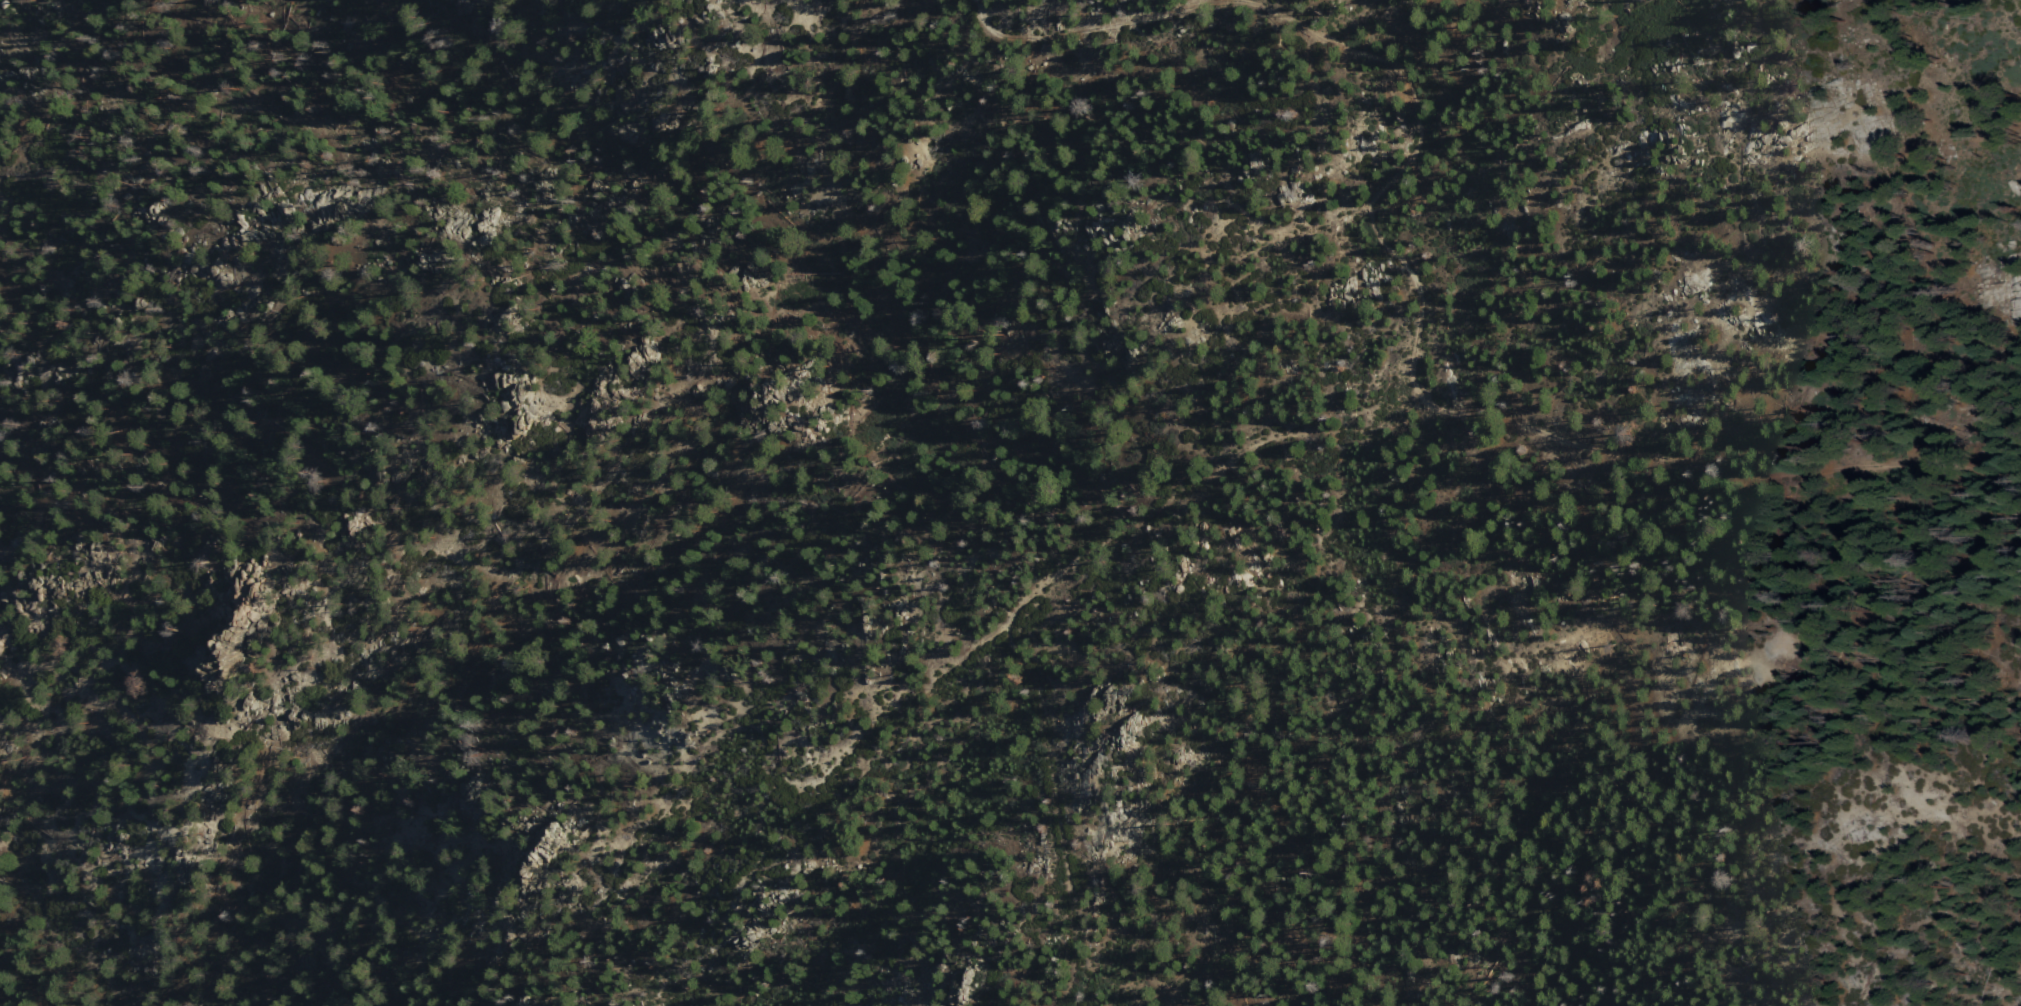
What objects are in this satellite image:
road: (1082, 29)
road: (1438, 411)
road: (1019, 620)

